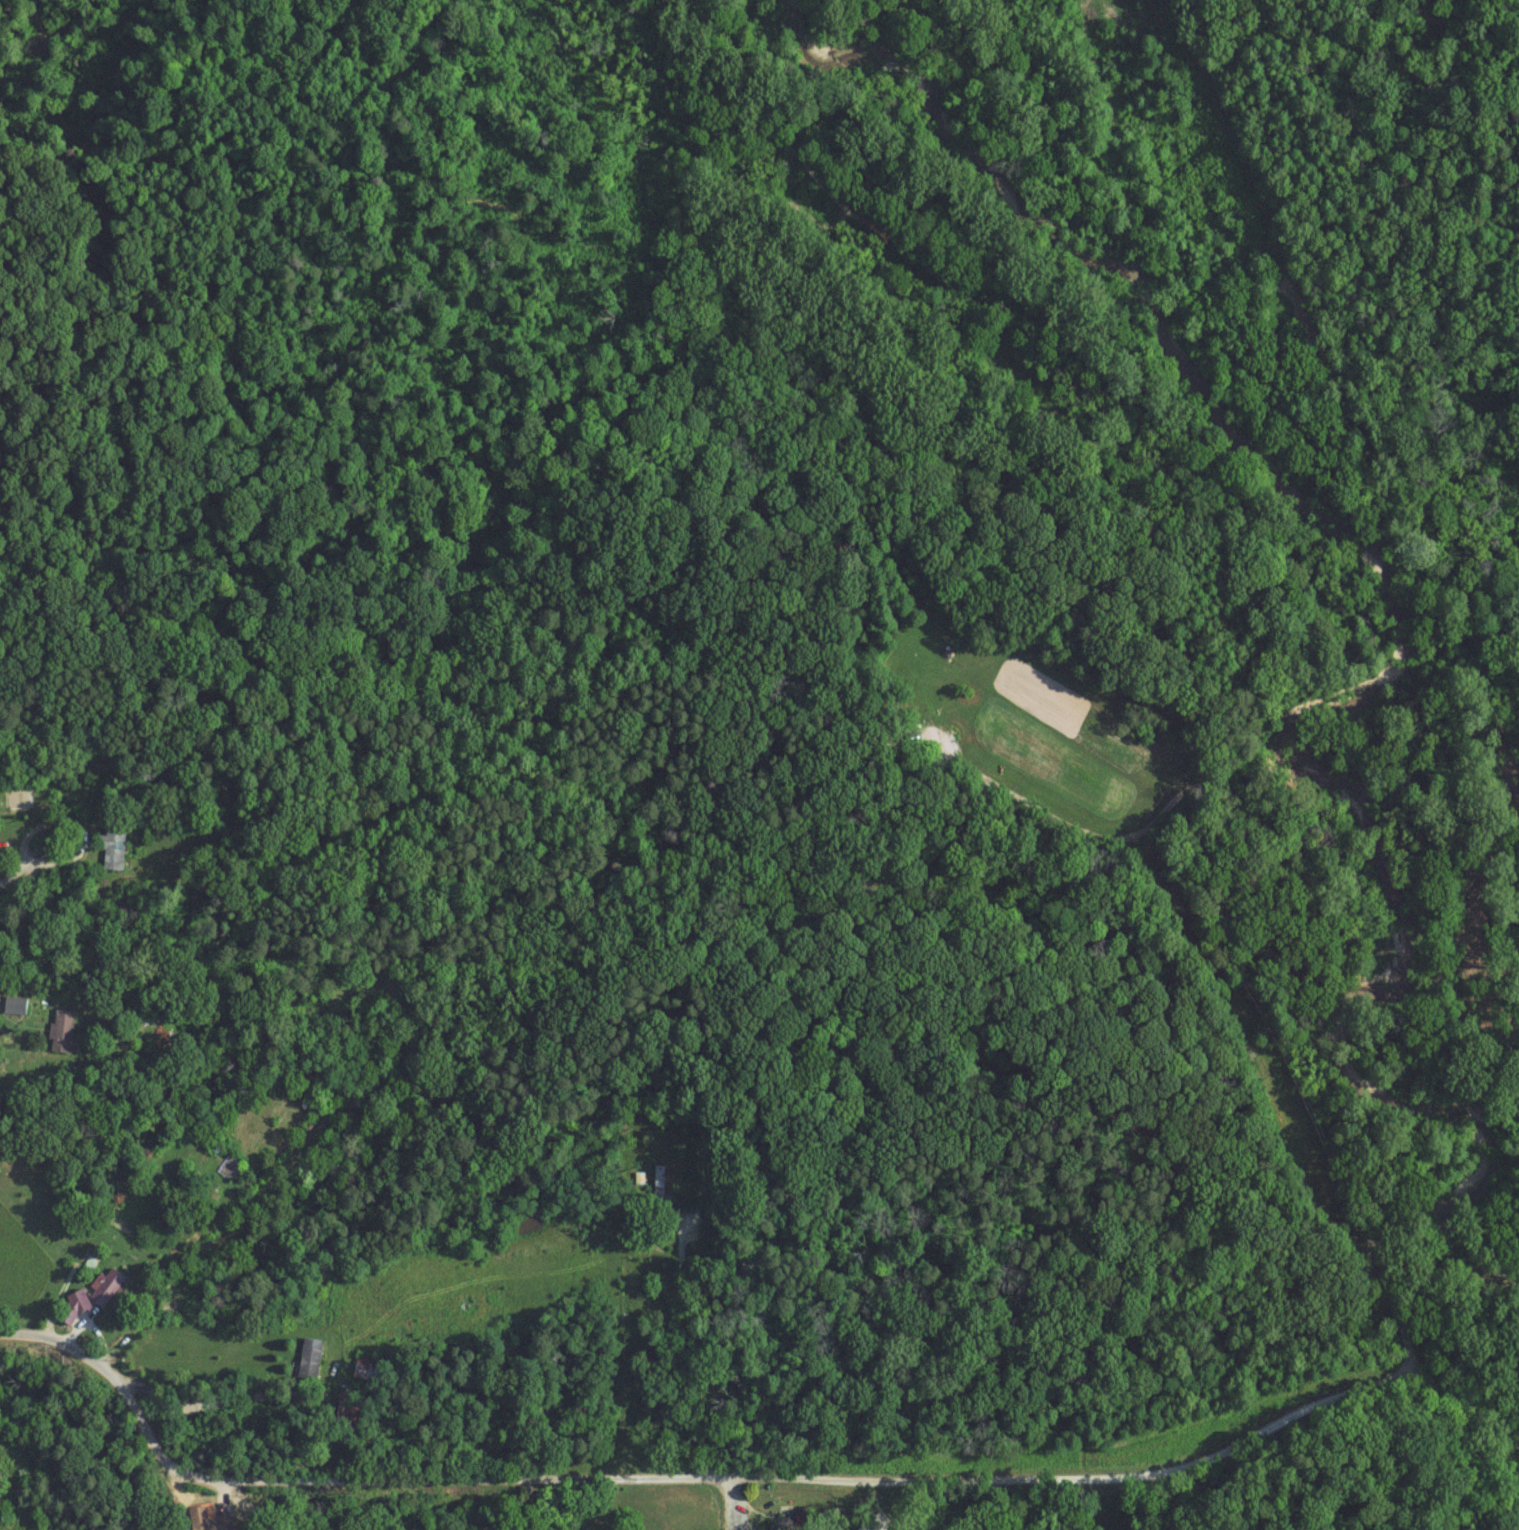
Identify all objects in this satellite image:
road: (80, 824)
road: (9, 873)
road: (1227, 924)
road: (324, 1163)
road: (1078, 1318)
road: (707, 1358)
road: (1473, 1406)
road: (686, 1476)

